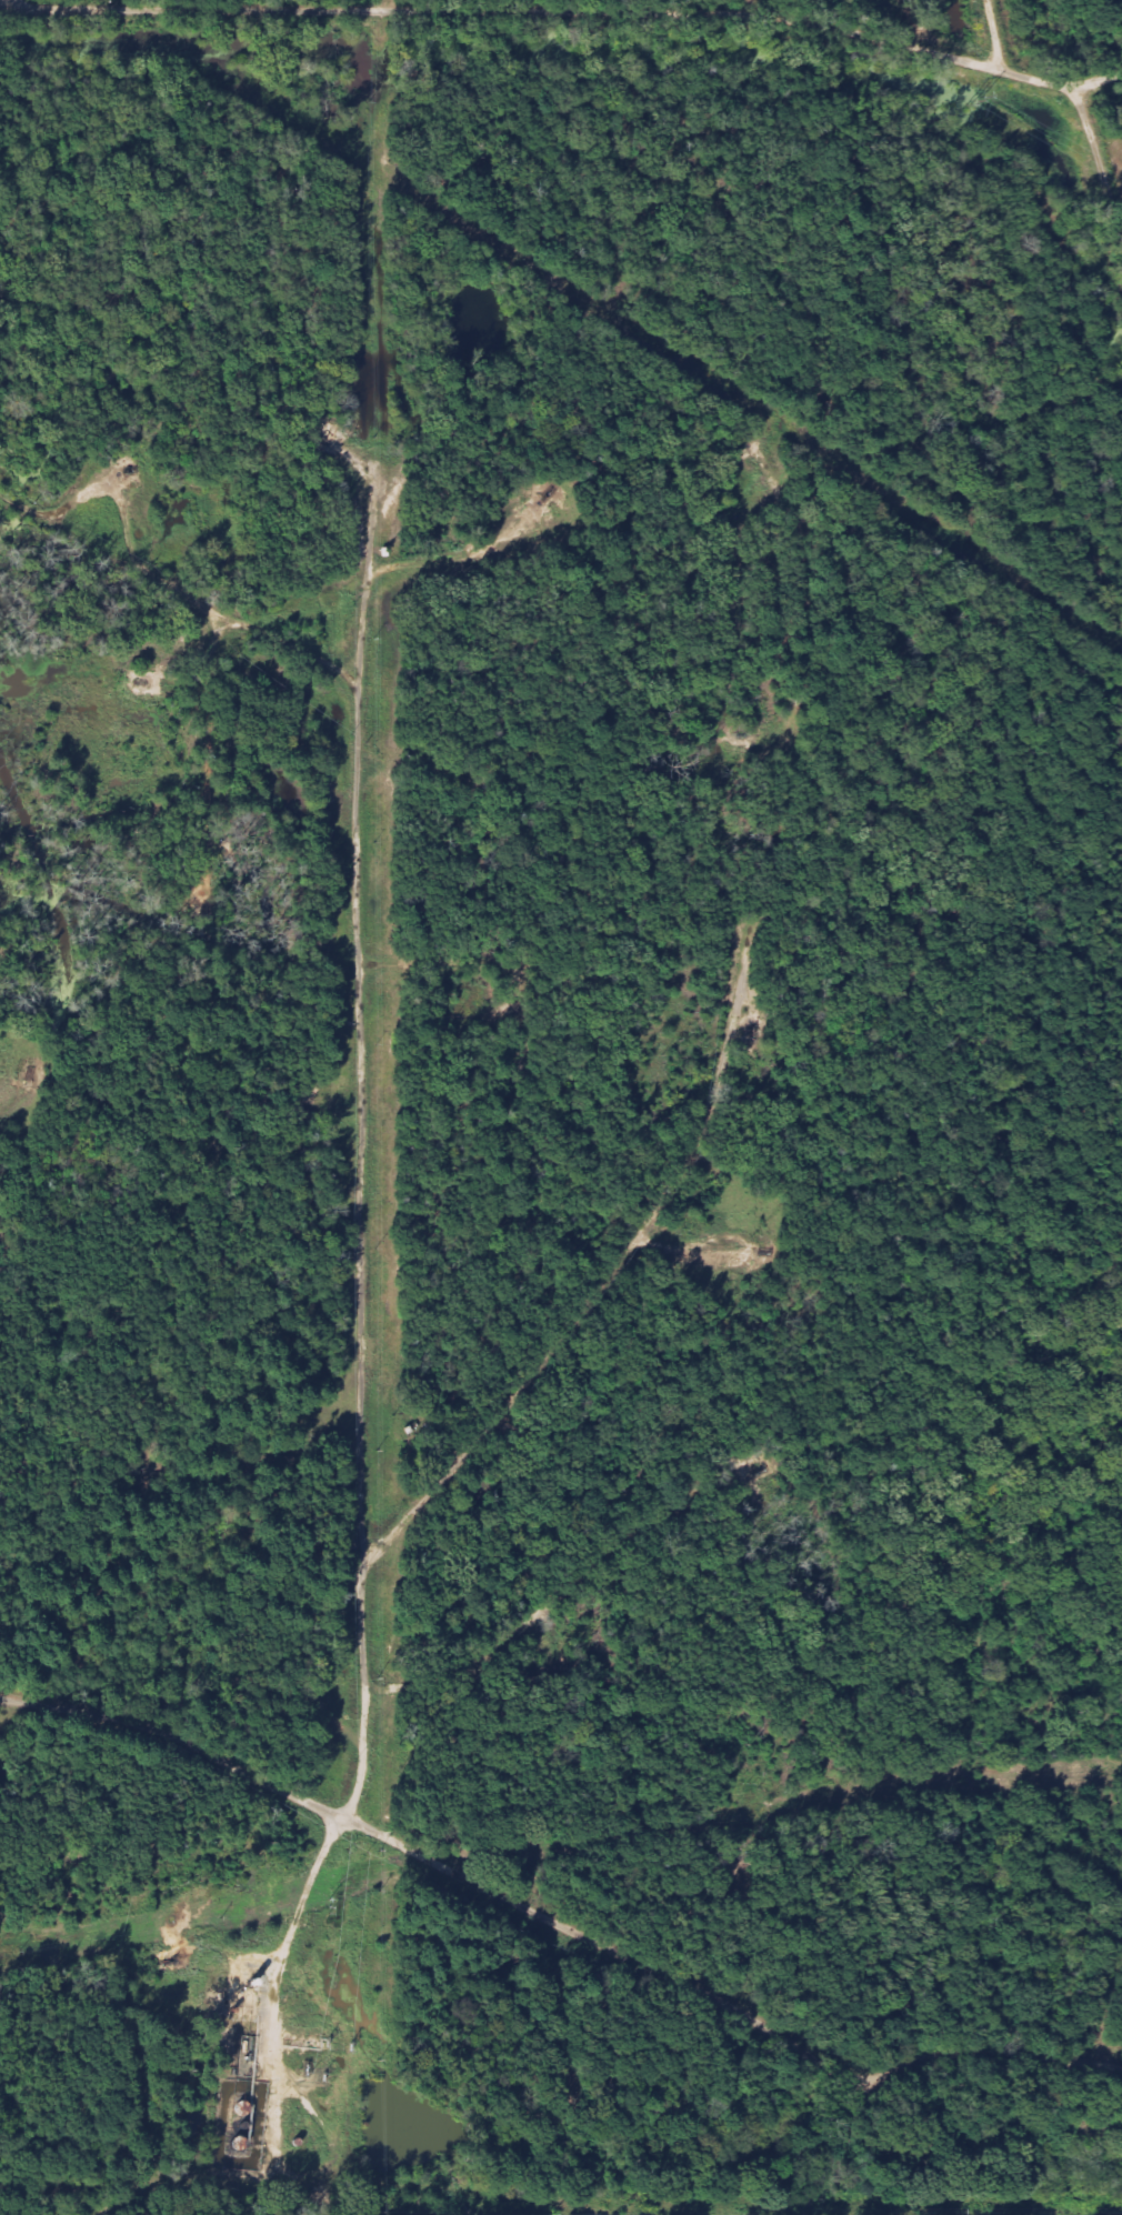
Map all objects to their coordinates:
power tower: (981, 99)

